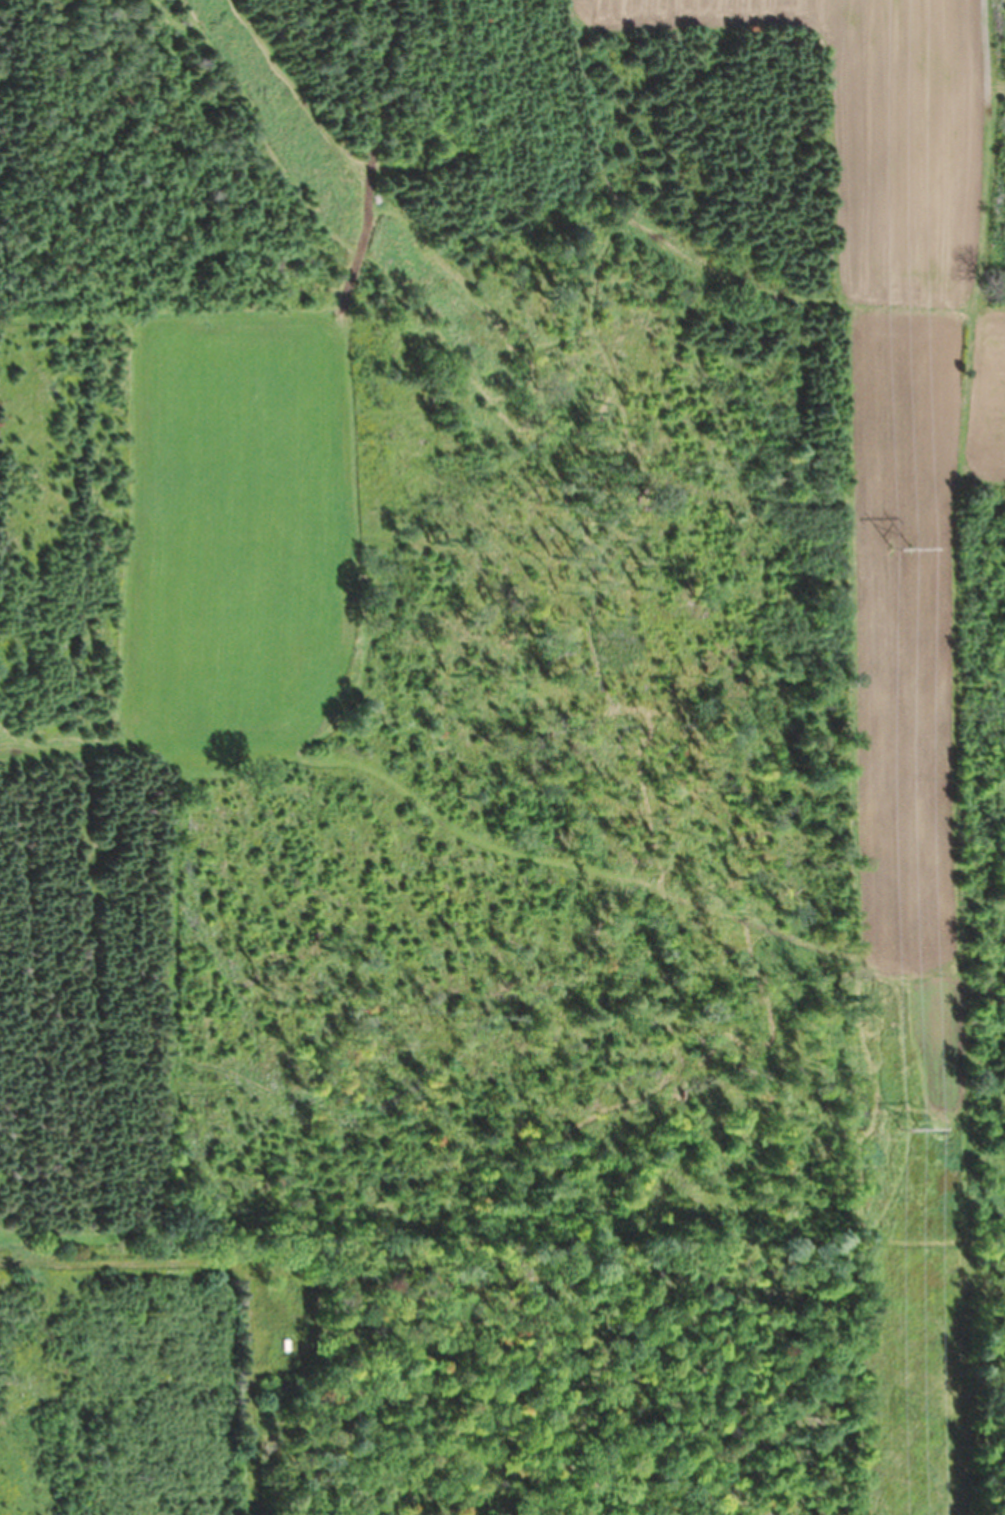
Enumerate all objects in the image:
power tower: (900, 547)
power tower: (909, 1130)

